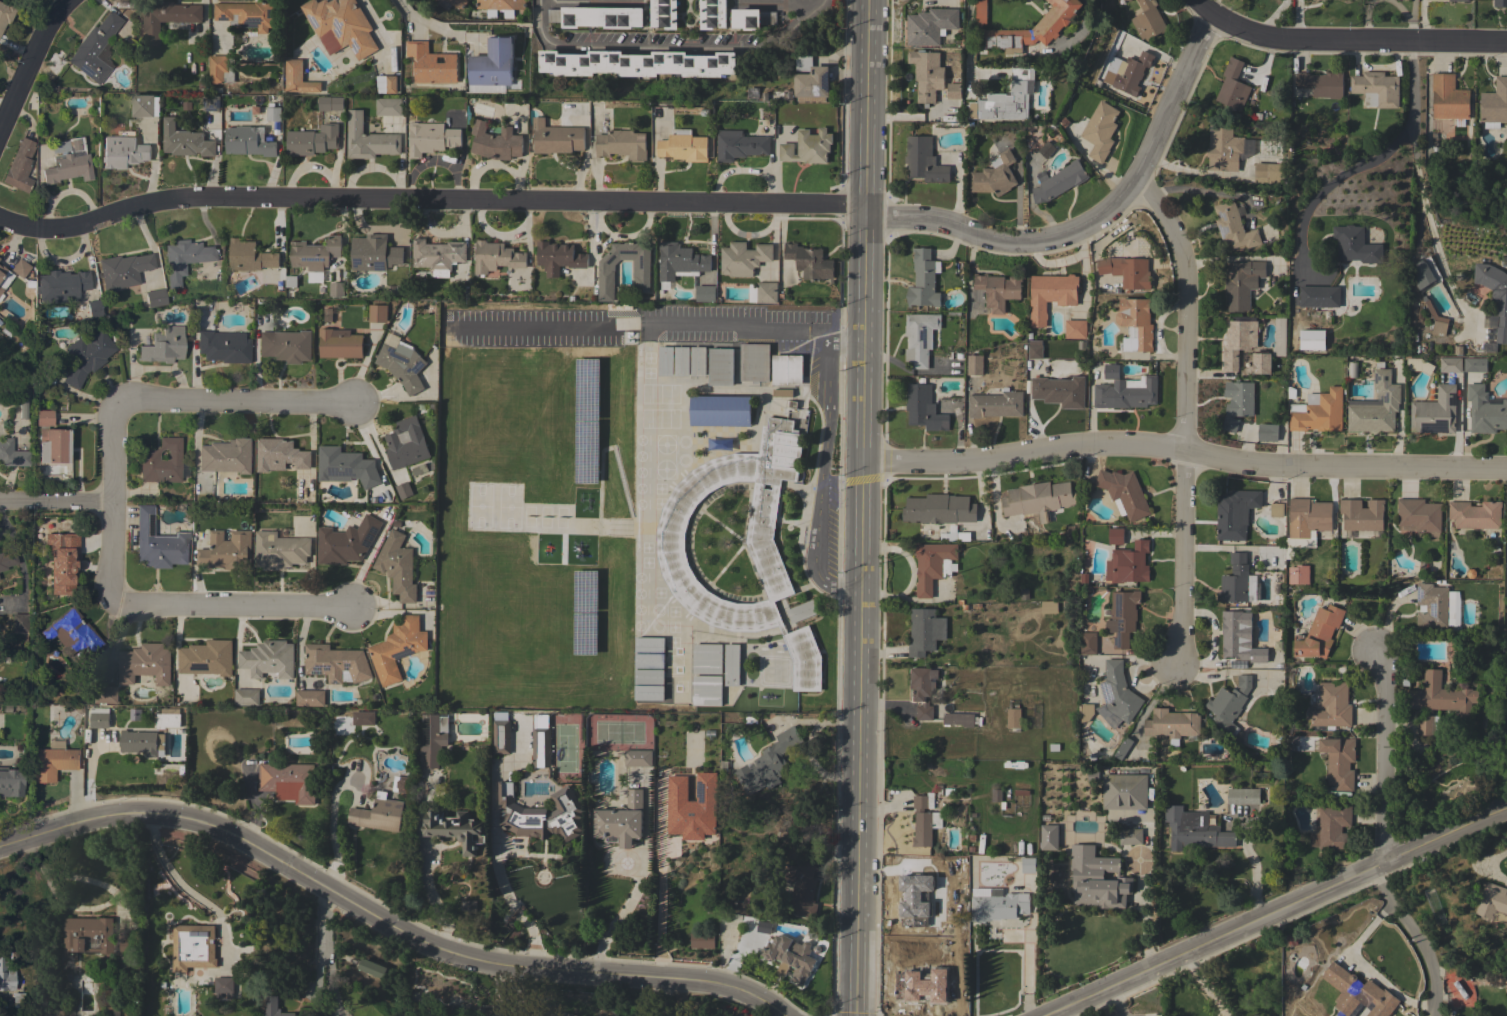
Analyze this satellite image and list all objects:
building: (1127, 0)
building: (1458, 0)
road: (784, 3)
building: (1500, 3)
building: (450, 4)
building: (499, 7)
building: (5, 14)
building: (663, 14)
building: (712, 14)
building: (246, 15)
building: (167, 17)
building: (597, 17)
building: (751, 18)
building: (1148, 20)
road: (424, 21)
building: (340, 26)
building: (931, 26)
building: (1047, 27)
road: (1346, 38)
road: (969, 44)
road: (667, 47)
building: (94, 49)
road: (30, 62)
building: (492, 63)
building: (637, 63)
building: (431, 64)
building: (220, 68)
building: (1131, 73)
building: (927, 74)
building: (297, 78)
building: (810, 80)
building: (1321, 83)
building: (386, 84)
building: (1233, 86)
building: (1376, 89)
building: (954, 91)
road: (1175, 96)
building: (1010, 98)
building: (1449, 99)
building: (211, 103)
building: (330, 103)
building: (1494, 104)
building: (144, 106)
building: (389, 106)
building: (273, 113)
building: (1100, 130)
building: (431, 138)
building: (556, 138)
building: (368, 139)
building: (185, 140)
building: (312, 140)
building: (248, 141)
building: (496, 142)
building: (622, 144)
building: (740, 145)
building: (683, 146)
building: (1248, 146)
building: (808, 147)
building: (1223, 148)
building: (1046, 149)
building: (123, 152)
building: (924, 160)
road: (1368, 161)
building: (69, 164)
building: (19, 167)
building: (1268, 173)
building: (994, 176)
building: (1058, 181)
road: (581, 203)
road: (1427, 218)
building: (1234, 226)
building: (1356, 245)
building: (315, 253)
building: (374, 253)
building: (250, 256)
building: (437, 256)
building: (560, 256)
building: (496, 257)
building: (184, 258)
building: (744, 258)
building: (680, 261)
building: (810, 261)
building: (19, 268)
building: (122, 270)
building: (2, 271)
building: (641, 271)
building: (1126, 271)
building: (923, 280)
building: (1242, 283)
building: (61, 286)
building: (336, 289)
building: (1, 290)
building: (998, 290)
building: (767, 292)
building: (705, 293)
building: (1495, 293)
building: (1049, 295)
building: (1319, 296)
building: (154, 298)
building: (94, 309)
building: (377, 313)
building: (1437, 320)
building: (1135, 324)
road: (740, 325)
building: (1075, 329)
building: (921, 338)
building: (1312, 339)
building: (1238, 342)
building: (339, 343)
building: (285, 345)
building: (163, 346)
building: (223, 347)
building: (1036, 352)
building: (86, 357)
building: (665, 361)
building: (681, 361)
building: (698, 361)
building: (401, 362)
building: (754, 362)
building: (1261, 362)
building: (1451, 364)
building: (975, 365)
building: (1472, 365)
building: (721, 366)
building: (787, 369)
building: (1352, 369)
building: (1111, 370)
building: (1059, 391)
building: (783, 392)
building: (1127, 393)
building: (1240, 397)
building: (5, 399)
road: (237, 402)
building: (21, 404)
building: (996, 404)
building: (1376, 406)
building: (924, 408)
building: (720, 410)
building: (1318, 411)
building: (1435, 411)
building: (1485, 411)
road: (1187, 415)
building: (1230, 424)
building: (1268, 432)
building: (51, 439)
building: (406, 443)
road: (1184, 451)
building: (12, 454)
building: (280, 455)
building: (226, 456)
building: (161, 462)
road: (824, 463)
building: (345, 466)
building: (404, 490)
building: (1124, 492)
building: (1038, 499)
road: (57, 501)
road: (114, 505)
building: (1506, 505)
road: (862, 507)
building: (940, 509)
building: (1276, 509)
building: (1235, 513)
building: (1362, 514)
building: (1419, 514)
building: (1475, 514)
building: (1306, 523)
building: (1116, 536)
building: (158, 542)
building: (346, 542)
building: (279, 550)
building: (226, 551)
building: (7, 559)
building: (672, 559)
building: (1130, 563)
building: (934, 565)
building: (61, 566)
building: (397, 566)
building: (1235, 580)
building: (1506, 581)
building: (1437, 607)
road: (235, 608)
building: (802, 611)
building: (1123, 617)
building: (19, 622)
building: (925, 631)
building: (72, 633)
building: (1319, 633)
building: (1238, 639)
building: (1088, 643)
building: (397, 648)
building: (207, 658)
building: (269, 659)
building: (707, 659)
building: (145, 663)
building: (336, 663)
building: (731, 665)
building: (706, 690)
building: (922, 690)
building: (1118, 692)
building: (105, 694)
building: (1441, 696)
building: (247, 697)
building: (310, 698)
building: (1229, 704)
building: (1332, 705)
building: (1087, 710)
building: (135, 713)
building: (99, 717)
building: (168, 718)
building: (363, 718)
building: (1014, 718)
building: (961, 719)
building: (1172, 723)
building: (1428, 725)
building: (502, 736)
building: (434, 738)
building: (142, 742)
building: (540, 748)
building: (1123, 748)
building: (638, 758)
building: (1339, 761)
building: (53, 763)
building: (768, 763)
building: (288, 781)
building: (10, 783)
building: (403, 784)
building: (1124, 791)
building: (1243, 796)
building: (997, 797)
building: (687, 813)
building: (540, 814)
building: (379, 815)
building: (924, 819)
building: (621, 821)
building: (1334, 826)
building: (456, 829)
building: (1195, 829)
road: (1383, 835)
building: (1049, 837)
building: (1131, 837)
building: (1028, 865)
road: (1496, 866)
road: (497, 872)
road: (1254, 878)
road: (643, 879)
building: (1097, 879)
road: (178, 881)
building: (802, 886)
building: (1493, 903)
building: (466, 905)
building: (999, 906)
road: (1145, 911)
road: (1275, 911)
road: (385, 920)
building: (922, 920)
building: (765, 927)
building: (1294, 938)
road: (321, 940)
building: (701, 940)
building: (103, 946)
building: (193, 947)
road: (1030, 955)
building: (792, 956)
building: (371, 968)
building: (5, 977)
building: (224, 986)
road: (496, 989)
building: (1358, 994)
building: (19, 997)
building: (121, 1006)
building: (274, 1007)
road: (1065, 1012)

